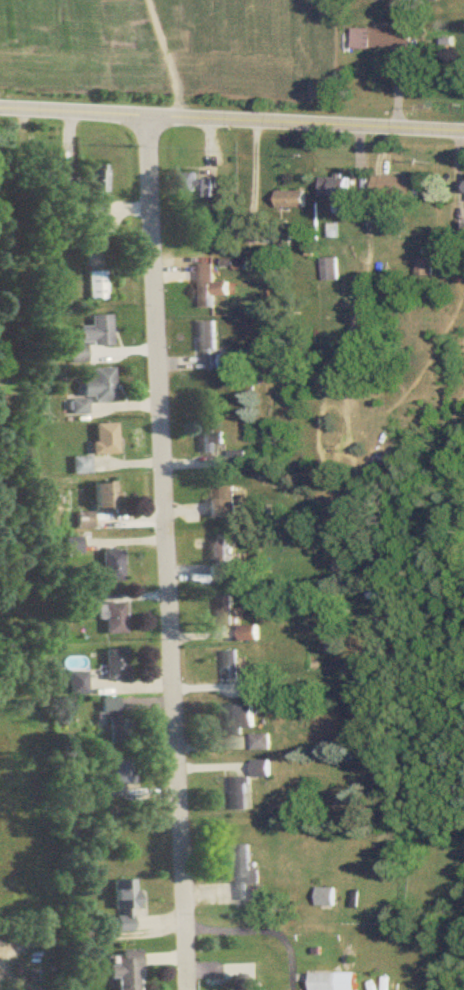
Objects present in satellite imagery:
building: (383, 39)
road: (231, 120)
building: (47, 184)
building: (194, 184)
building: (400, 188)
building: (339, 192)
building: (95, 194)
building: (293, 200)
building: (427, 268)
building: (333, 270)
building: (94, 287)
building: (207, 287)
building: (91, 338)
building: (209, 345)
building: (97, 386)
building: (76, 408)
building: (102, 440)
building: (213, 444)
building: (239, 460)
building: (102, 496)
building: (224, 504)
building: (81, 521)
building: (218, 550)
road: (164, 553)
building: (109, 565)
building: (225, 611)
building: (109, 618)
building: (251, 634)
building: (113, 665)
building: (231, 665)
building: (75, 684)
building: (256, 689)
building: (239, 719)
building: (112, 722)
building: (264, 742)
building: (115, 777)
building: (240, 794)
building: (243, 873)
building: (329, 898)
building: (120, 907)
building: (123, 971)
building: (328, 982)
building: (249, 989)

